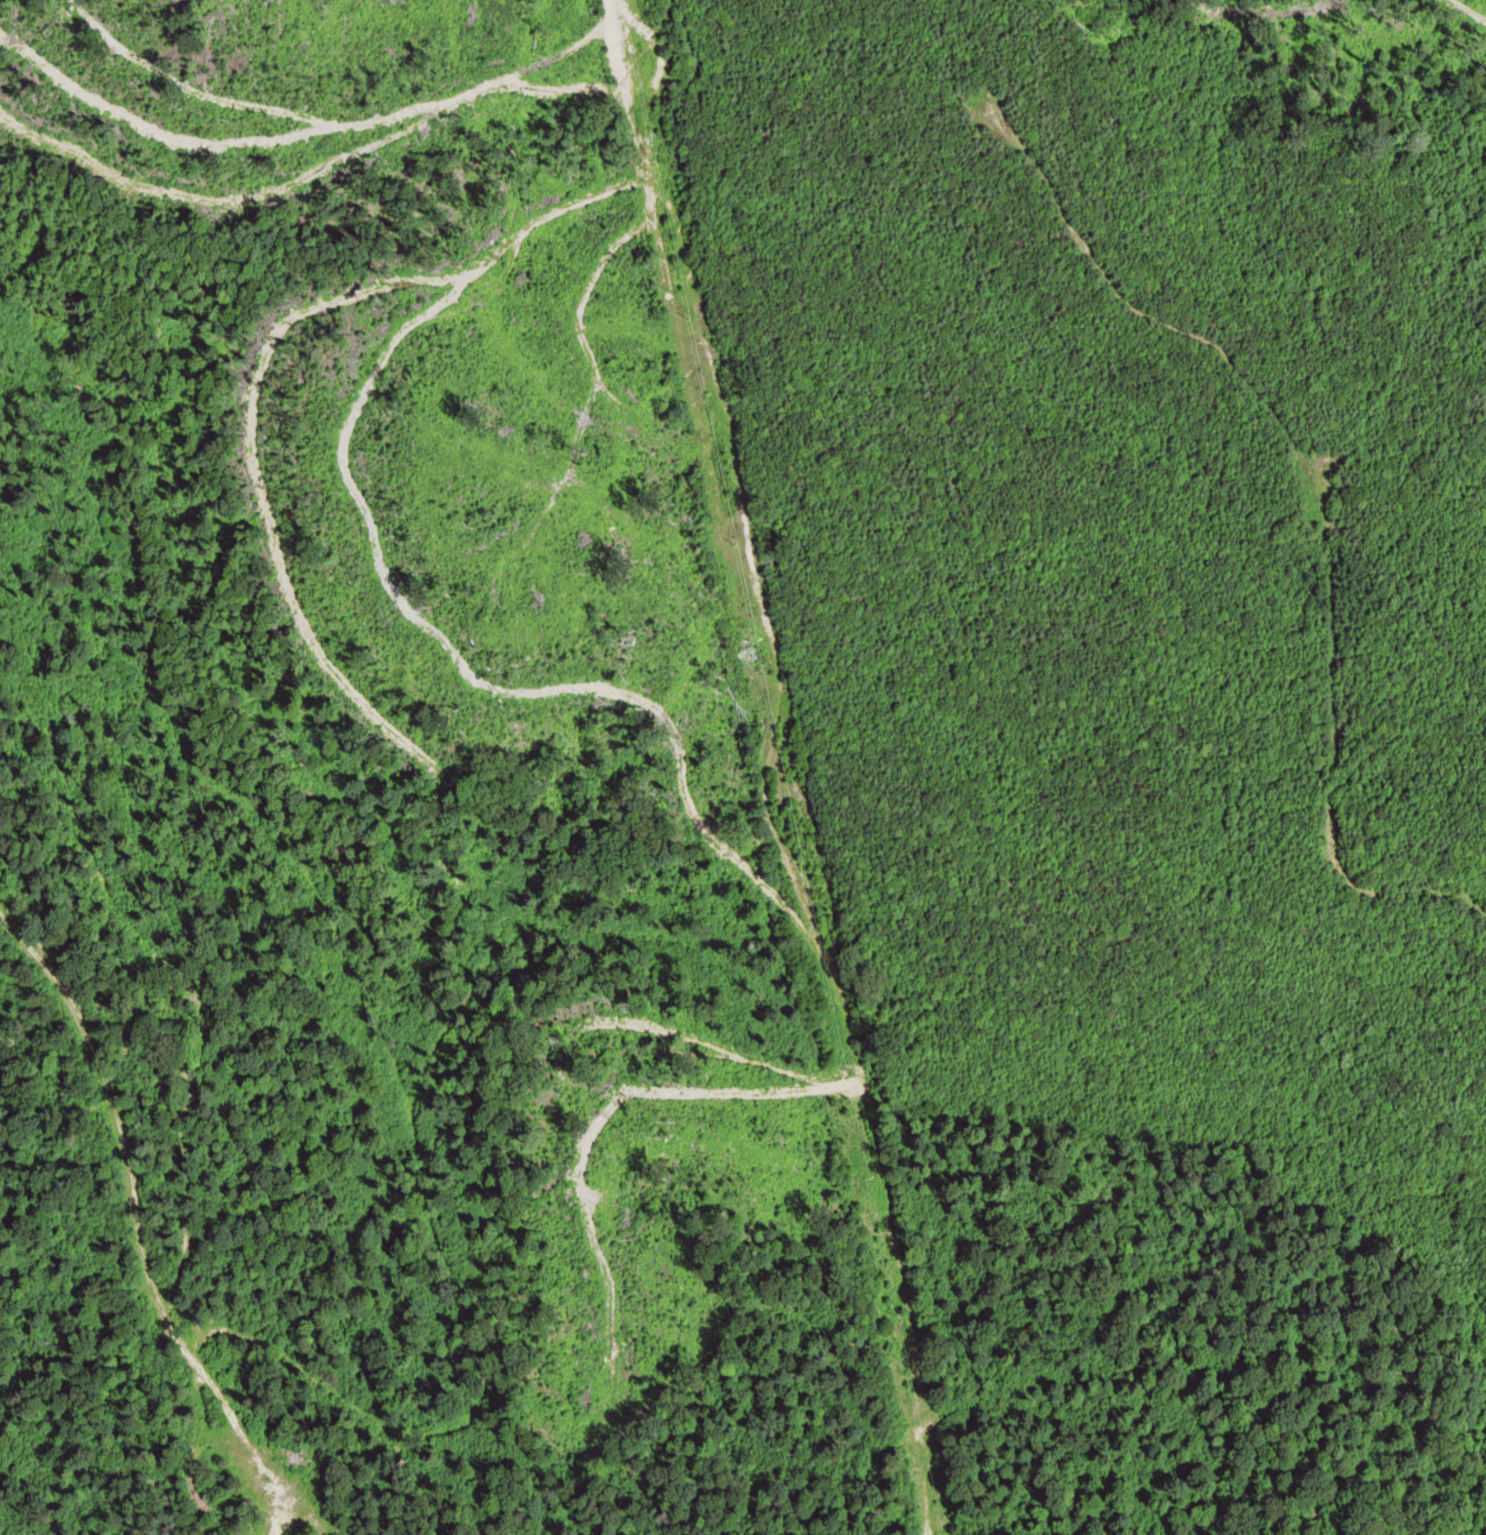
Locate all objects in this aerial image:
road: (143, 1224)

